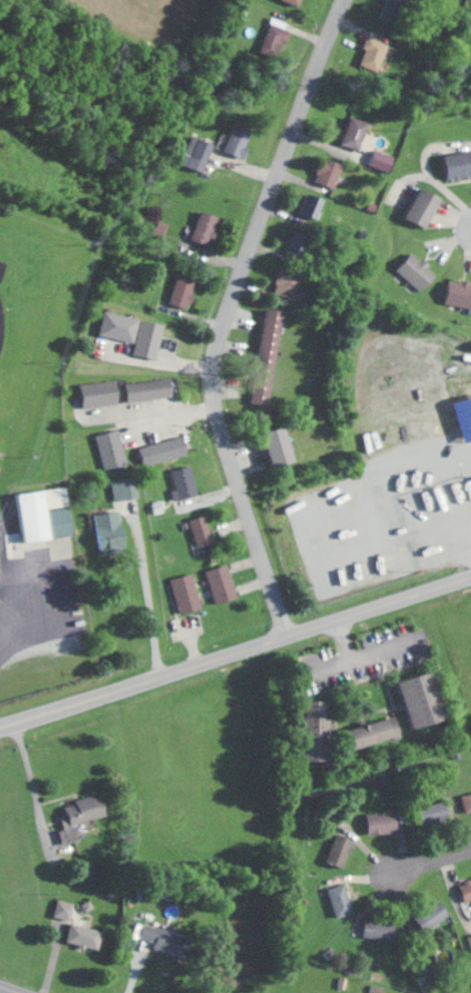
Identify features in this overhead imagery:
building: (298, 2)
building: (278, 38)
building: (377, 50)
building: (357, 133)
building: (241, 140)
building: (199, 153)
building: (384, 161)
building: (458, 165)
building: (332, 172)
building: (313, 206)
building: (427, 207)
building: (208, 228)
building: (300, 244)
building: (420, 271)
building: (290, 283)
building: (186, 291)
building: (461, 293)
road: (237, 313)
building: (137, 333)
building: (271, 357)
building: (152, 390)
building: (103, 394)
building: (284, 447)
building: (113, 449)
building: (166, 451)
building: (187, 483)
building: (127, 489)
building: (48, 514)
building: (113, 531)
building: (205, 531)
building: (225, 584)
building: (189, 594)
road: (147, 596)
road: (235, 654)
building: (428, 700)
building: (321, 731)
building: (375, 733)
road: (34, 780)
building: (468, 802)
building: (438, 813)
building: (83, 816)
building: (386, 823)
building: (343, 851)
road: (431, 860)
building: (468, 891)
building: (344, 901)
building: (66, 910)
building: (437, 915)
building: (382, 930)
building: (87, 937)
building: (167, 939)
road: (4, 991)

